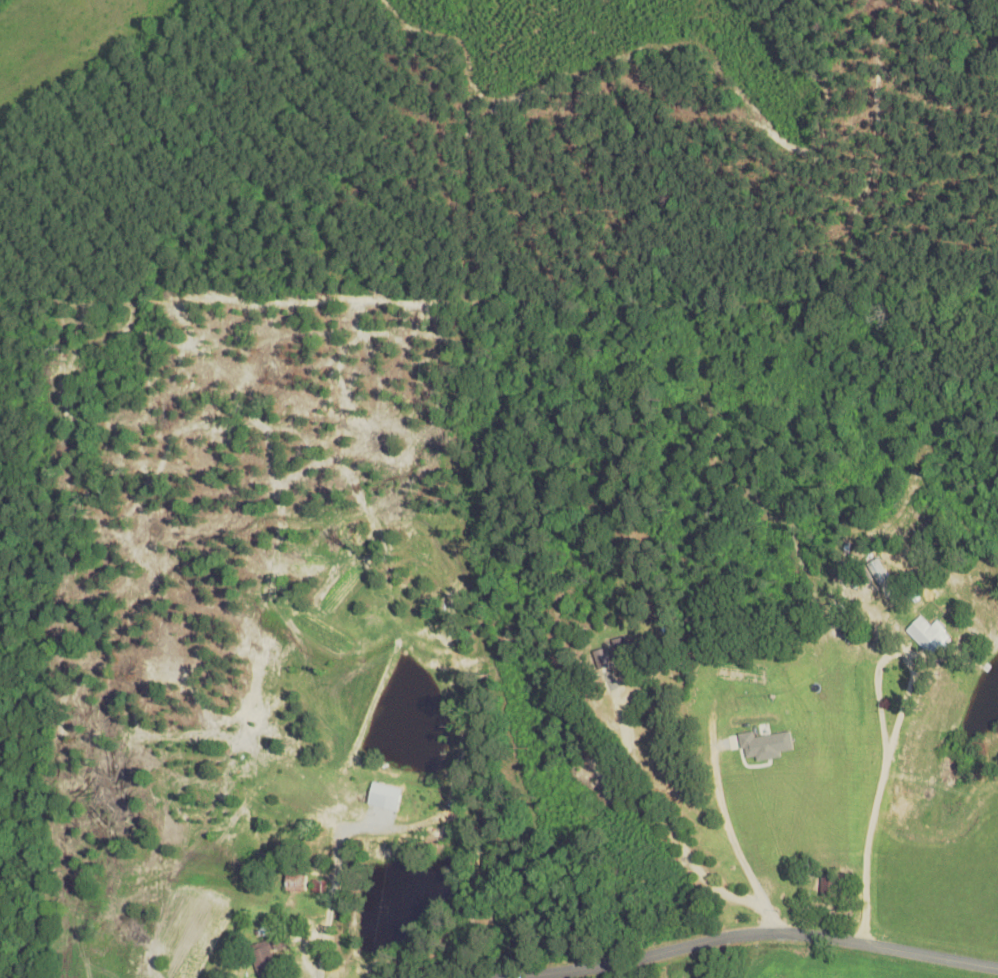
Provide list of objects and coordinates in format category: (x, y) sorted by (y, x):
building: (926, 636)
building: (623, 647)
road: (871, 829)
building: (297, 879)
road: (747, 932)
building: (266, 957)

